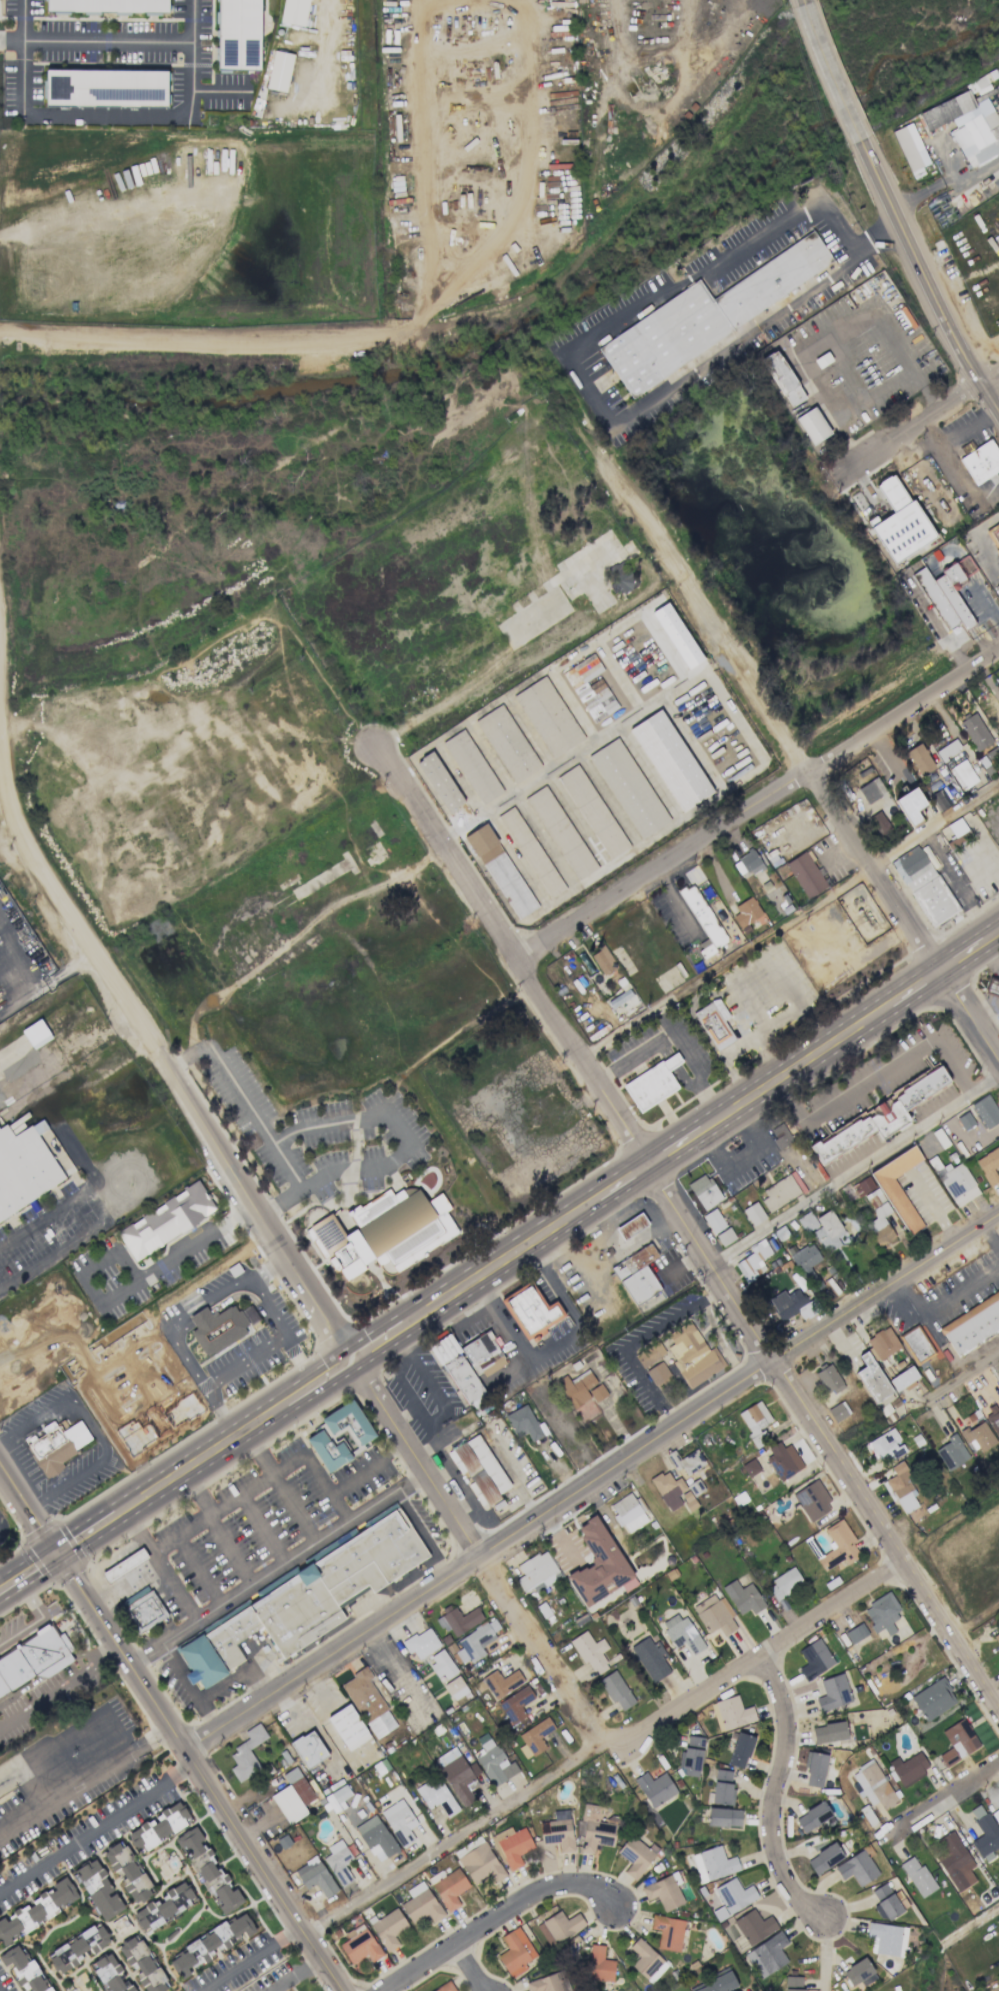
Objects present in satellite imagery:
road: (802, 2)
building: (108, 6)
building: (294, 12)
road: (16, 17)
road: (121, 33)
road: (8, 35)
building: (238, 35)
building: (279, 71)
road: (826, 72)
road: (220, 85)
building: (105, 88)
road: (101, 108)
building: (967, 125)
building: (910, 147)
road: (944, 180)
road: (75, 210)
road: (926, 273)
building: (708, 314)
road: (566, 340)
road: (171, 342)
road: (908, 356)
road: (850, 359)
building: (782, 378)
road: (815, 381)
road: (919, 422)
building: (812, 425)
road: (954, 447)
building: (981, 462)
building: (899, 522)
building: (994, 535)
building: (620, 577)
building: (947, 591)
building: (676, 635)
building: (590, 687)
building: (548, 717)
building: (976, 732)
building: (507, 743)
road: (800, 753)
building: (919, 759)
building: (670, 760)
building: (471, 767)
building: (963, 774)
road: (3, 775)
building: (439, 782)
building: (628, 788)
building: (871, 790)
road: (995, 796)
road: (758, 801)
building: (910, 805)
building: (592, 811)
building: (878, 824)
building: (560, 832)
building: (530, 852)
building: (750, 862)
building: (500, 871)
building: (806, 874)
building: (924, 884)
building: (747, 911)
building: (703, 920)
road: (791, 922)
road: (299, 932)
road: (76, 933)
building: (603, 960)
road: (30, 965)
road: (747, 968)
building: (992, 988)
road: (48, 995)
building: (619, 998)
road: (986, 1010)
building: (714, 1023)
building: (36, 1033)
road: (449, 1037)
road: (741, 1043)
road: (695, 1060)
road: (881, 1063)
building: (652, 1083)
building: (986, 1111)
road: (255, 1117)
building: (875, 1119)
building: (965, 1120)
road: (399, 1127)
parking lot: (320, 1136)
building: (780, 1136)
road: (675, 1146)
building: (989, 1165)
building: (22, 1169)
road: (855, 1172)
building: (956, 1183)
building: (862, 1186)
building: (782, 1191)
building: (702, 1197)
building: (898, 1202)
road: (254, 1203)
road: (633, 1206)
road: (44, 1212)
building: (753, 1213)
building: (165, 1220)
road: (623, 1220)
building: (713, 1220)
building: (807, 1222)
building: (880, 1224)
building: (379, 1229)
road: (630, 1230)
building: (629, 1231)
gas station: (629, 1231)
building: (828, 1231)
road: (688, 1232)
road: (609, 1236)
building: (725, 1236)
road: (991, 1236)
road: (635, 1238)
road: (624, 1250)
building: (753, 1261)
building: (807, 1265)
building: (631, 1266)
road: (579, 1268)
road: (130, 1285)
road: (252, 1289)
road: (941, 1301)
building: (790, 1303)
building: (529, 1312)
road: (175, 1320)
building: (972, 1327)
building: (217, 1329)
road: (556, 1339)
road: (630, 1340)
building: (883, 1342)
road: (406, 1343)
building: (916, 1345)
building: (649, 1354)
building: (692, 1355)
road: (300, 1361)
road: (244, 1363)
building: (467, 1363)
road: (512, 1367)
road: (334, 1373)
building: (658, 1373)
road: (966, 1373)
building: (903, 1377)
building: (829, 1379)
building: (874, 1381)
building: (582, 1394)
building: (837, 1411)
road: (220, 1412)
building: (993, 1417)
road: (426, 1419)
building: (349, 1422)
building: (523, 1422)
building: (755, 1422)
road: (94, 1429)
building: (977, 1433)
building: (886, 1445)
building: (56, 1446)
building: (327, 1450)
building: (952, 1452)
building: (783, 1461)
building: (690, 1462)
building: (479, 1467)
building: (750, 1467)
road: (368, 1469)
road: (591, 1480)
road: (282, 1485)
building: (695, 1487)
road: (158, 1488)
building: (902, 1488)
building: (672, 1492)
road: (241, 1495)
building: (812, 1500)
building: (628, 1513)
road: (219, 1526)
road: (264, 1528)
building: (838, 1546)
traffic signals: (59, 1553)
road: (475, 1553)
building: (124, 1564)
building: (598, 1564)
road: (276, 1567)
road: (199, 1570)
building: (537, 1572)
building: (784, 1583)
road: (174, 1587)
building: (309, 1596)
building: (743, 1597)
building: (145, 1610)
building: (882, 1613)
building: (714, 1615)
road: (41, 1619)
building: (458, 1619)
building: (998, 1623)
building: (681, 1633)
building: (856, 1633)
building: (996, 1638)
building: (472, 1642)
building: (421, 1643)
building: (591, 1652)
road: (751, 1658)
building: (33, 1659)
building: (814, 1659)
building: (442, 1665)
road: (395, 1668)
road: (47, 1673)
road: (179, 1673)
road: (262, 1677)
building: (500, 1682)
road: (223, 1685)
building: (455, 1688)
road: (63, 1690)
building: (616, 1690)
building: (833, 1692)
building: (932, 1699)
building: (368, 1703)
building: (515, 1704)
building: (731, 1713)
road: (205, 1715)
road: (171, 1727)
building: (348, 1727)
building: (829, 1732)
building: (534, 1738)
building: (957, 1741)
building: (308, 1749)
building: (740, 1750)
building: (246, 1753)
building: (691, 1755)
road: (576, 1759)
building: (494, 1762)
building: (908, 1767)
building: (815, 1769)
parking lot: (115, 1773)
building: (456, 1775)
road: (85, 1781)
building: (299, 1785)
building: (872, 1785)
building: (722, 1786)
building: (655, 1788)
road: (776, 1789)
building: (437, 1797)
building: (336, 1798)
road: (938, 1801)
building: (288, 1804)
building: (995, 1814)
building: (812, 1816)
building: (724, 1817)
building: (399, 1821)
building: (159, 1827)
building: (594, 1829)
road: (95, 1830)
building: (557, 1830)
building: (984, 1833)
building: (376, 1838)
parking lot: (82, 1841)
building: (512, 1845)
road: (429, 1852)
building: (635, 1856)
building: (825, 1857)
building: (479, 1861)
building: (338, 1862)
building: (955, 1862)
building: (712, 1864)
building: (857, 1867)
building: (207, 1870)
building: (127, 1871)
building: (315, 1877)
building: (918, 1877)
building: (450, 1888)
building: (97, 1890)
building: (664, 1891)
building: (734, 1895)
building: (885, 1902)
building: (420, 1903)
building: (164, 1906)
building: (38, 1909)
road: (496, 1916)
building: (753, 1926)
building: (559, 1927)
building: (388, 1928)
building: (668, 1932)
building: (886, 1938)
building: (210, 1944)
building: (359, 1944)
building: (78, 1947)
building: (515, 1951)
building: (767, 1955)
road: (820, 1955)
road: (249, 1958)
building: (645, 1959)
building: (142, 1964)
building: (599, 1964)
parking lot: (233, 1965)
road: (471, 1967)
building: (24, 1968)
building: (858, 1972)
building: (109, 1974)
parking lot: (275, 1976)
road: (295, 1976)
parking lot: (6, 1981)
building: (549, 1983)
building: (793, 1983)
building: (717, 1984)
building: (445, 1987)
building: (996, 1990)

